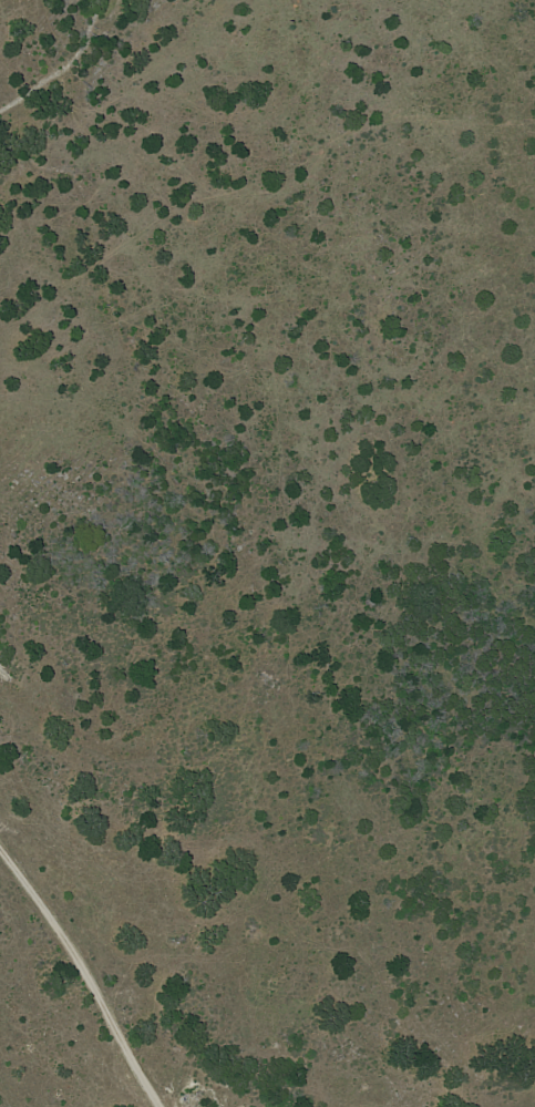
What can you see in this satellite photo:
road: (80, 990)

